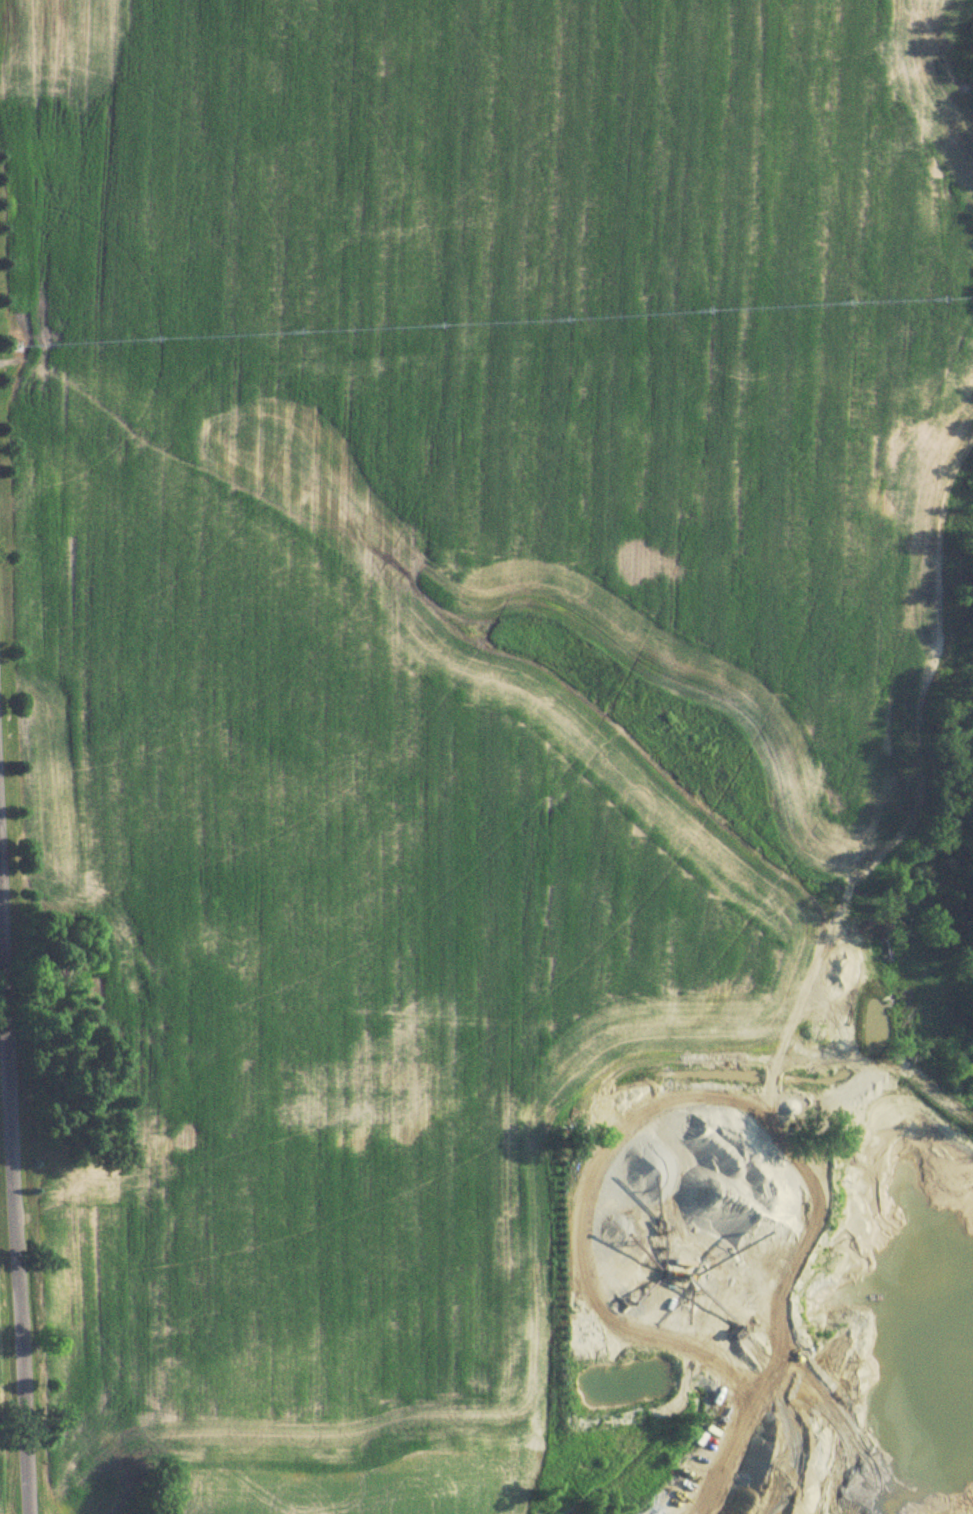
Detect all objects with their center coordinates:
road: (15, 1242)

